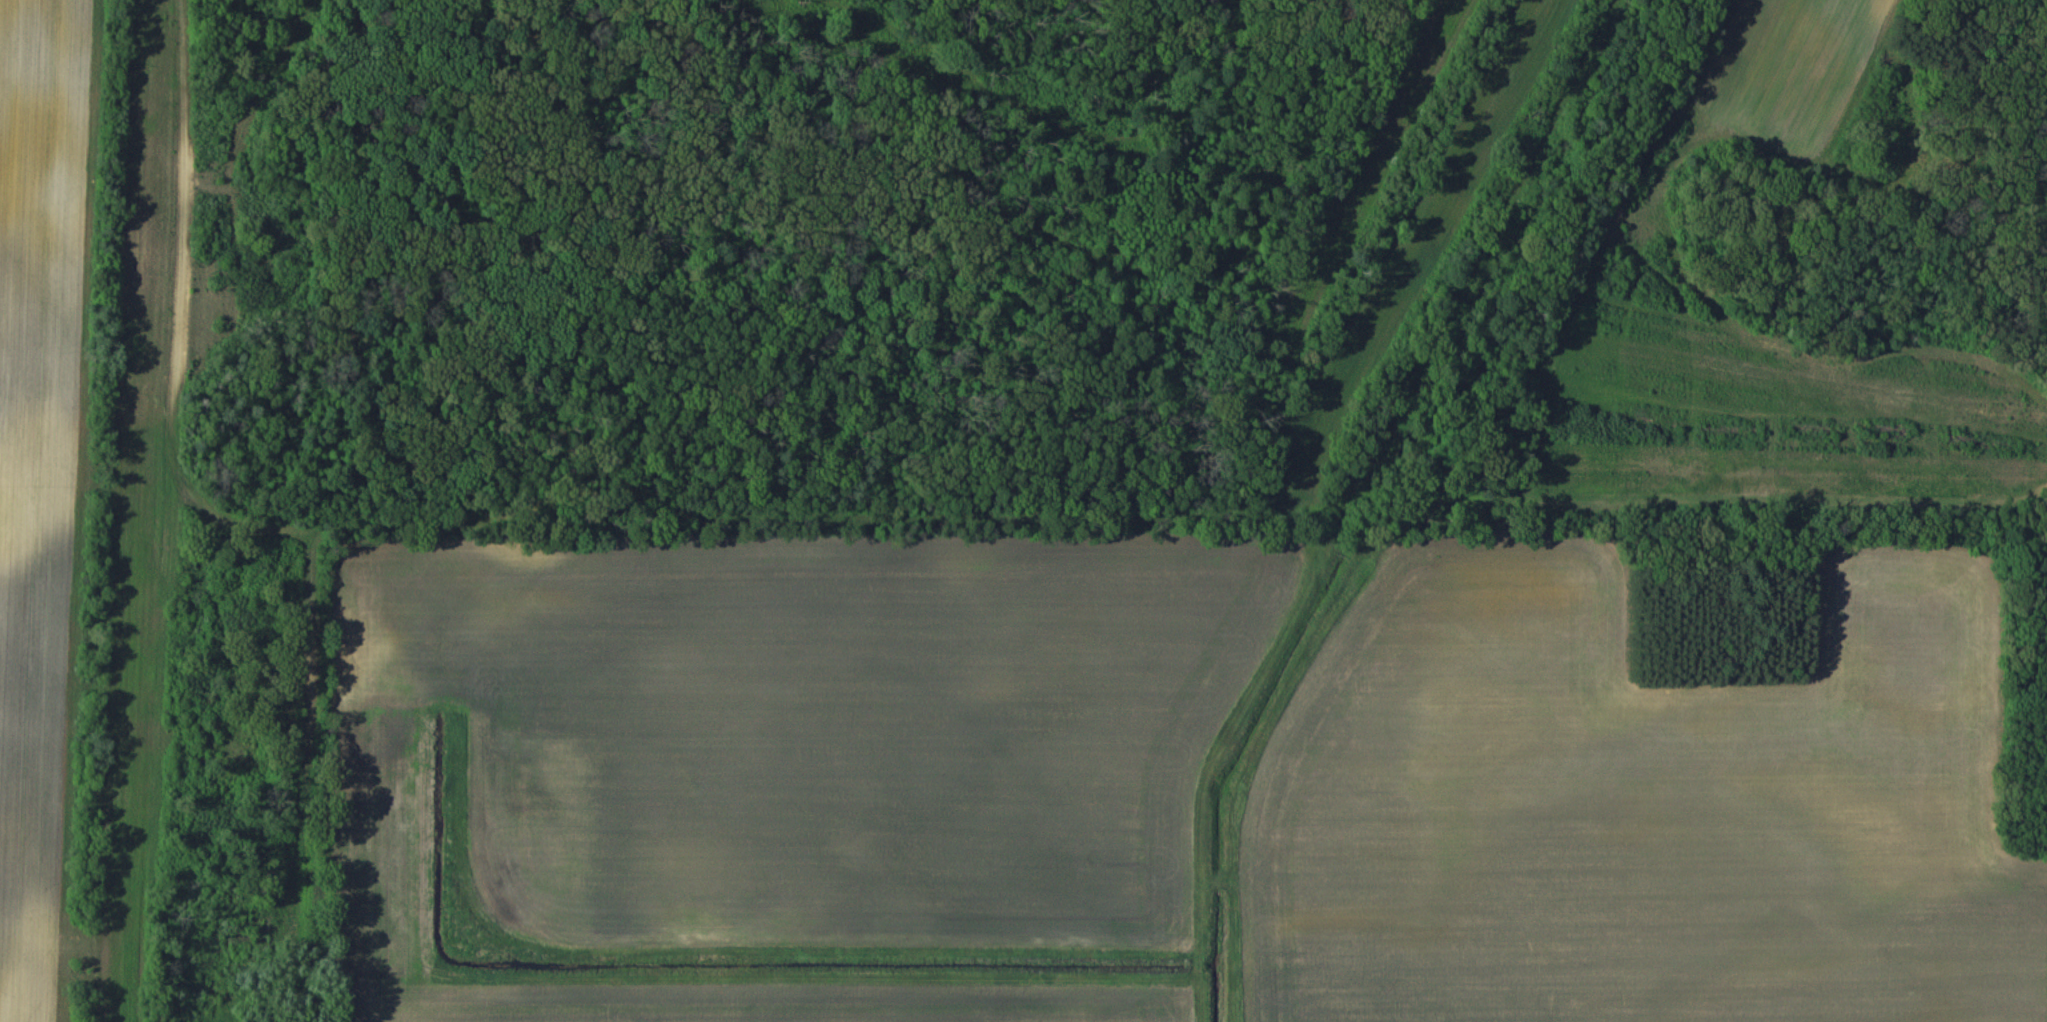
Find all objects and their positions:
road: (472, 2)

